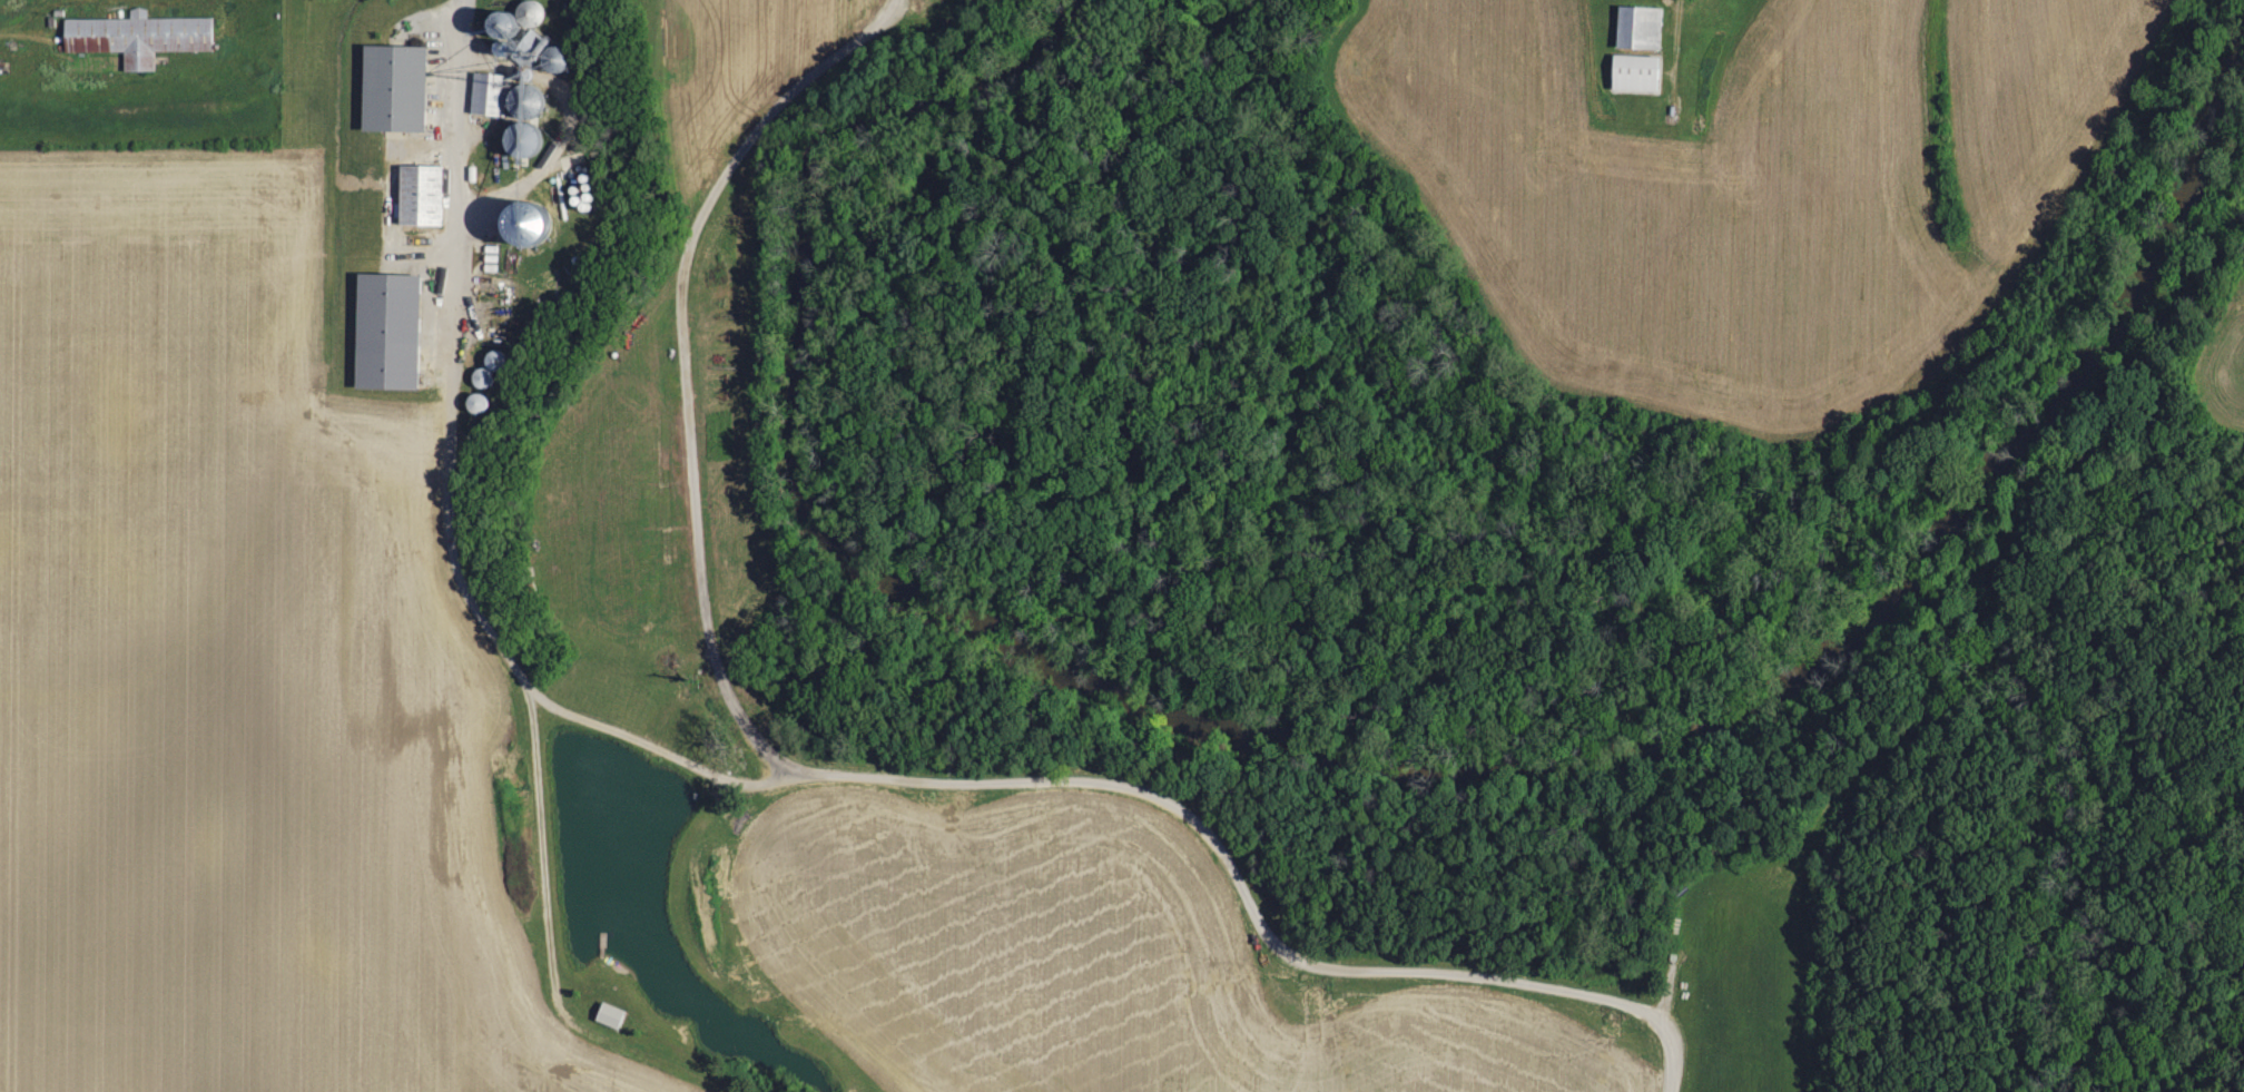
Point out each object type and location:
building: (1640, 27)
building: (138, 37)
river: (1030, 53)
building: (1635, 72)
building: (516, 77)
building: (393, 87)
building: (420, 195)
building: (524, 222)
building: (386, 331)
road: (450, 509)
river: (1937, 542)
river: (837, 550)
road: (868, 777)
building: (610, 1016)

